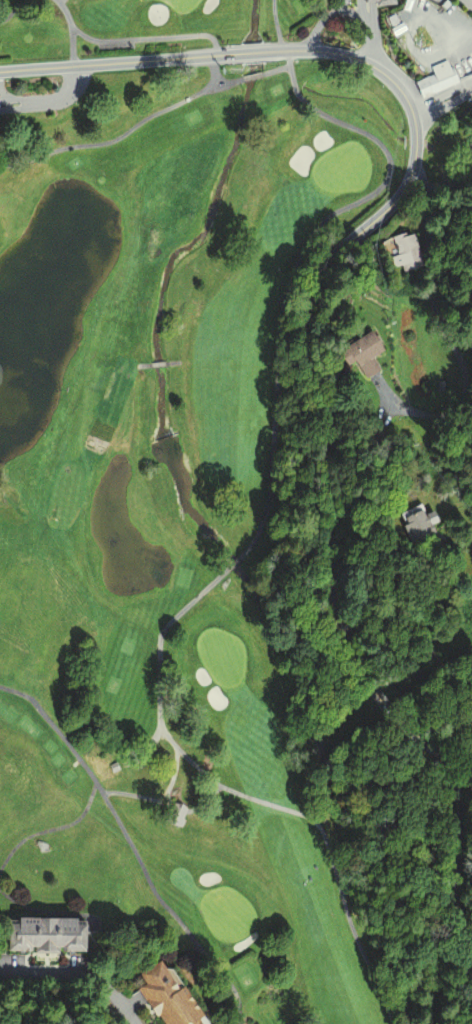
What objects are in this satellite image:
road: (471, 0)
building: (383, 3)
road: (10, 10)
road: (367, 12)
road: (350, 18)
road: (319, 20)
road: (276, 25)
road: (69, 30)
road: (368, 32)
road: (147, 37)
road: (106, 63)
road: (251, 74)
building: (434, 80)
road: (441, 93)
road: (4, 95)
road: (48, 101)
road: (443, 106)
road: (124, 133)
road: (427, 228)
building: (404, 252)
road: (295, 262)
building: (359, 354)
road: (462, 398)
road: (326, 418)
park: (170, 471)
building: (416, 523)
road: (234, 562)
road: (148, 745)
road: (172, 778)
road: (241, 794)
road: (165, 802)
building: (176, 814)
road: (53, 828)
road: (131, 846)
building: (44, 934)
road: (78, 974)
road: (202, 983)
building: (164, 995)

